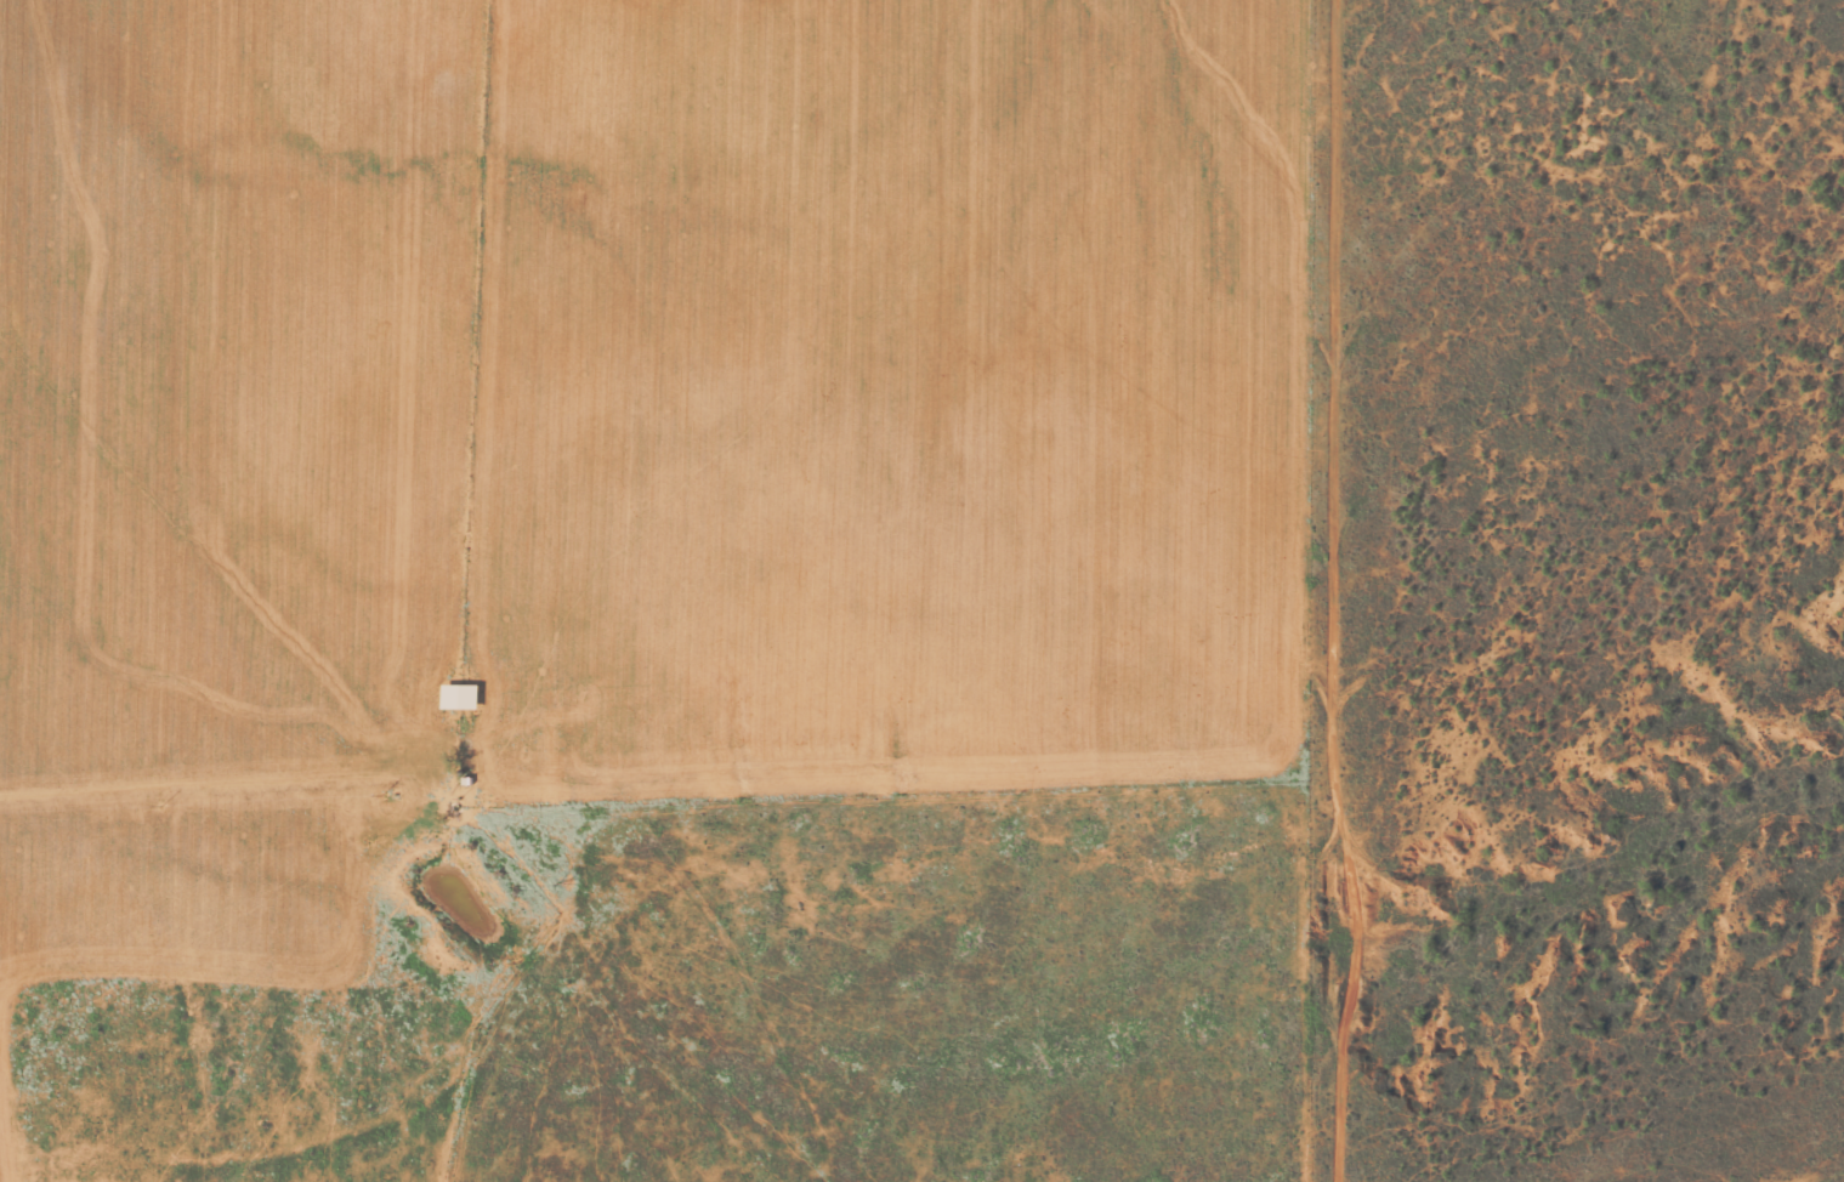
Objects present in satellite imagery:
road: (200, 874)

